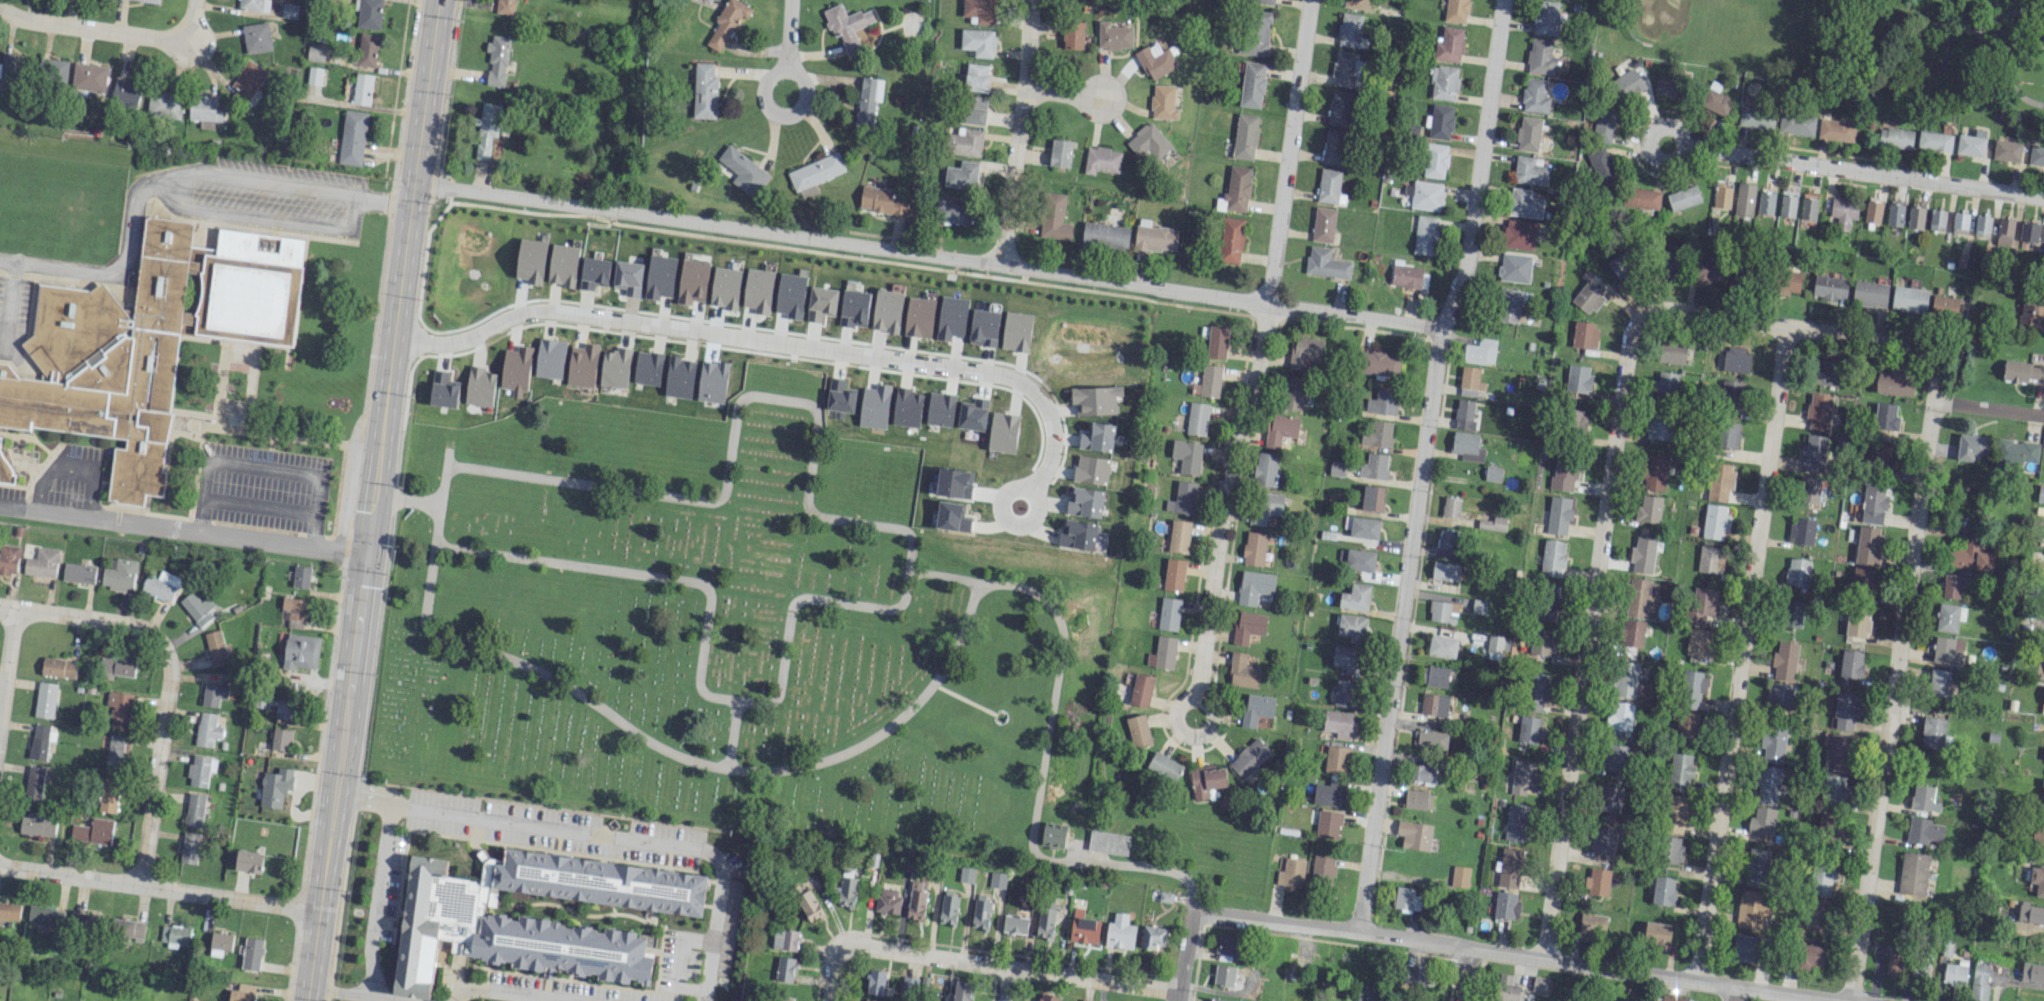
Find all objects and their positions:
building: (153, 0)
building: (1265, 1)
building: (1356, 4)
building: (253, 5)
building: (506, 6)
building: (289, 10)
building: (980, 10)
building: (1456, 10)
building: (369, 14)
road: (193, 15)
building: (1545, 17)
building: (726, 22)
park: (1678, 23)
building: (847, 26)
road: (91, 28)
road: (1959, 28)
building: (1349, 29)
road: (787, 32)
building: (1256, 32)
building: (1072, 34)
building: (1113, 36)
building: (257, 37)
building: (2043, 37)
building: (978, 41)
park: (1848, 42)
building: (1449, 44)
road: (1986, 45)
building: (367, 49)
building: (316, 53)
road: (197, 55)
building: (1541, 57)
building: (497, 59)
building: (1156, 60)
building: (15, 65)
road: (784, 65)
building: (1347, 69)
building: (52, 70)
building: (315, 75)
building: (89, 76)
building: (976, 77)
building: (247, 80)
building: (1443, 82)
building: (1627, 83)
building: (1252, 84)
building: (1668, 85)
building: (362, 88)
building: (704, 91)
building: (125, 93)
road: (1064, 95)
building: (1535, 95)
building: (1716, 99)
building: (868, 100)
building: (1163, 102)
building: (164, 103)
building: (1341, 108)
building: (206, 109)
building: (974, 109)
building: (1756, 117)
building: (1440, 121)
building: (1796, 123)
building: (1605, 125)
building: (486, 128)
building: (1836, 130)
road: (1017, 133)
building: (1528, 133)
building: (1245, 136)
building: (353, 137)
building: (1895, 138)
building: (1148, 141)
building: (1934, 141)
building: (965, 142)
road: (1647, 143)
building: (1971, 143)
building: (1334, 146)
building: (2006, 150)
building: (1060, 153)
building: (2036, 155)
building: (1101, 160)
building: (1435, 160)
building: (1601, 167)
building: (743, 171)
building: (1529, 171)
road: (1866, 173)
building: (815, 174)
road: (181, 175)
building: (962, 175)
building: (1328, 185)
building: (1236, 189)
building: (1424, 195)
building: (1722, 196)
building: (1640, 197)
building: (1683, 197)
building: (1744, 199)
building: (881, 200)
building: (1524, 203)
building: (1766, 203)
building: (1787, 203)
building: (1808, 207)
building: (1872, 211)
building: (953, 212)
building: (1844, 212)
building: (1894, 214)
building: (1054, 216)
building: (1915, 217)
building: (1937, 220)
building: (1959, 223)
building: (1323, 224)
building: (1982, 225)
building: (2004, 232)
building: (2031, 232)
building: (1519, 234)
building: (1105, 235)
building: (1425, 235)
building: (1155, 238)
building: (1230, 240)
road: (927, 255)
building: (531, 260)
building: (1708, 262)
building: (1325, 263)
building: (1623, 263)
building: (563, 265)
road: (120, 266)
building: (1514, 267)
building: (594, 272)
building: (660, 276)
building: (1406, 276)
building: (628, 277)
building: (692, 281)
building: (1788, 282)
building: (725, 287)
building: (1829, 287)
building: (758, 290)
building: (1869, 294)
building: (790, 295)
building: (1587, 297)
building: (1909, 299)
building: (821, 303)
building: (1508, 305)
building: (1944, 307)
building: (854, 308)
building: (887, 310)
building: (2031, 316)
building: (919, 317)
building: (952, 317)
building: (984, 327)
building: (1016, 331)
building: (1584, 334)
road: (1868, 338)
building: (1217, 341)
building: (146, 342)
road: (822, 350)
building: (1304, 351)
building: (1480, 351)
building: (1670, 352)
building: (550, 358)
building: (1736, 359)
building: (1379, 363)
building: (582, 365)
road: (1253, 366)
building: (615, 367)
building: (648, 367)
building: (516, 369)
building: (2024, 369)
building: (1823, 371)
building: (679, 377)
building: (1578, 378)
building: (1210, 380)
building: (712, 381)
building: (1468, 381)
building: (1895, 382)
building: (480, 386)
building: (1665, 386)
building: (443, 389)
building: (1293, 393)
building: (1730, 394)
building: (840, 397)
building: (1095, 399)
building: (1382, 401)
building: (874, 406)
building: (906, 407)
building: (940, 409)
building: (1819, 411)
building: (972, 414)
building: (1464, 414)
building: (1885, 416)
building: (1197, 418)
building: (1577, 420)
building: (1659, 426)
building: (1280, 429)
building: (1002, 432)
building: (1377, 434)
building: (1728, 434)
building: (1097, 436)
building: (1467, 446)
building: (1970, 446)
building: (2015, 452)
building: (1812, 453)
building: (1880, 455)
building: (1187, 456)
road: (1422, 463)
building: (1374, 466)
building: (6, 468)
road: (260, 468)
building: (1336, 468)
building: (1091, 469)
building: (1265, 469)
road: (68, 470)
building: (1655, 471)
building: (1493, 473)
building: (1563, 474)
building: (1720, 482)
building: (954, 483)
building: (1808, 489)
building: (2040, 494)
building: (1185, 497)
building: (1372, 498)
road: (373, 500)
building: (1084, 502)
building: (1873, 504)
building: (1266, 506)
building: (1450, 507)
building: (1648, 509)
building: (1558, 515)
building: (951, 516)
building: (1714, 520)
building: (1492, 523)
building: (1364, 528)
road: (182, 530)
building: (1802, 530)
building: (1078, 535)
building: (1179, 536)
building: (1447, 539)
building: (1868, 545)
building: (1254, 548)
building: (1643, 549)
road: (908, 550)
traffic signals: (366, 555)
building: (1969, 555)
building: (1552, 557)
building: (9, 559)
building: (1709, 559)
building: (1360, 560)
building: (42, 562)
building: (1445, 571)
building: (1797, 571)
building: (78, 573)
road: (941, 573)
building: (119, 574)
building: (1174, 574)
building: (301, 576)
building: (1862, 580)
building: (160, 585)
building: (1951, 585)
building: (1254, 586)
building: (1355, 597)
building: (1638, 597)
building: (1549, 601)
building: (1702, 604)
building: (1478, 606)
building: (197, 607)
building: (295, 611)
building: (1443, 611)
building: (1169, 613)
building: (1792, 613)
building: (1949, 617)
road: (98, 620)
building: (1856, 624)
building: (1247, 626)
building: (1352, 627)
building: (1447, 633)
building: (1633, 633)
road: (1588, 636)
building: (1544, 641)
building: (1698, 642)
building: (1442, 646)
building: (1497, 646)
building: (216, 647)
building: (301, 651)
building: (1947, 651)
building: (1164, 652)
road: (1739, 652)
park: (766, 655)
road: (7, 659)
building: (1346, 659)
building: (1784, 661)
building: (1851, 663)
building: (58, 667)
building: (116, 667)
building: (1242, 671)
building: (1435, 676)
building: (1625, 679)
building: (1939, 682)
building: (1692, 687)
building: (1141, 690)
building: (1536, 691)
building: (1345, 693)
building: (213, 694)
building: (1779, 696)
building: (45, 699)
road: (1895, 701)
building: (1434, 704)
building: (1256, 708)
building: (119, 709)
building: (1845, 710)
building: (1619, 715)
building: (1339, 723)
building: (1687, 724)
road: (886, 727)
building: (207, 729)
building: (1528, 729)
building: (1138, 730)
building: (1933, 732)
road: (732, 733)
building: (281, 739)
building: (1430, 740)
building: (39, 741)
building: (1773, 743)
building: (1837, 749)
building: (114, 752)
building: (1249, 757)
building: (1615, 757)
building: (1337, 759)
building: (2043, 759)
building: (1164, 766)
building: (200, 770)
building: (1680, 771)
building: (1423, 774)
building: (1523, 776)
road: (153, 777)
building: (1206, 780)
building: (34, 783)
building: (1768, 784)
building: (275, 787)
building: (1834, 787)
building: (1327, 794)
building: (108, 796)
building: (2043, 797)
building: (1610, 798)
building: (1923, 798)
building: (1418, 799)
building: (194, 810)
building: (1677, 810)
building: (1761, 821)
building: (1515, 822)
building: (37, 824)
building: (1327, 824)
parking lot: (556, 829)
building: (1829, 829)
building: (1923, 830)
building: (93, 831)
road: (598, 833)
building: (1053, 834)
building: (1414, 834)
building: (2038, 837)
building: (1605, 840)
building: (1108, 842)
building: (189, 847)
building: (1670, 849)
building: (248, 861)
building: (1757, 866)
building: (1509, 867)
building: (1322, 868)
building: (1291, 872)
building: (1913, 873)
building: (966, 874)
building: (1460, 876)
building: (1823, 878)
building: (2037, 878)
building: (997, 879)
building: (1598, 881)
road: (159, 887)
building: (847, 888)
building: (1663, 890)
road: (376, 899)
building: (1406, 899)
building: (887, 901)
building: (915, 901)
building: (809, 905)
building: (1506, 905)
building: (948, 908)
building: (1753, 908)
building: (9, 910)
building: (1815, 913)
building: (2031, 913)
building: (980, 914)
building: (45, 915)
building: (1045, 919)
building: (86, 921)
building: (1015, 924)
building: (1592, 924)
building: (500, 927)
building: (1083, 928)
building: (129, 929)
building: (1120, 932)
building: (175, 934)
building: (1657, 934)
building: (1153, 936)
building: (785, 939)
building: (221, 940)
building: (1227, 945)
building: (1745, 947)
building: (252, 953)
road: (1509, 954)
road: (1186, 955)
building: (1811, 956)
building: (1894, 961)
building: (1921, 968)
building: (784, 969)
road: (1012, 969)
road: (832, 972)
building: (1955, 972)
building: (2032, 972)
road: (1465, 974)
building: (1224, 975)
building: (1416, 976)
building: (875, 981)
building: (1979, 982)
building: (1540, 984)
road: (1007, 985)
building: (908, 988)
building: (1506, 988)
road: (340, 991)
building: (961, 991)
road: (504, 992)
building: (242, 993)
building: (1375, 994)
road: (1733, 994)
building: (1048, 997)
building: (783, 998)
building: (1673, 998)
road: (385, 999)
building: (872, 1000)
building: (1218, 1000)

